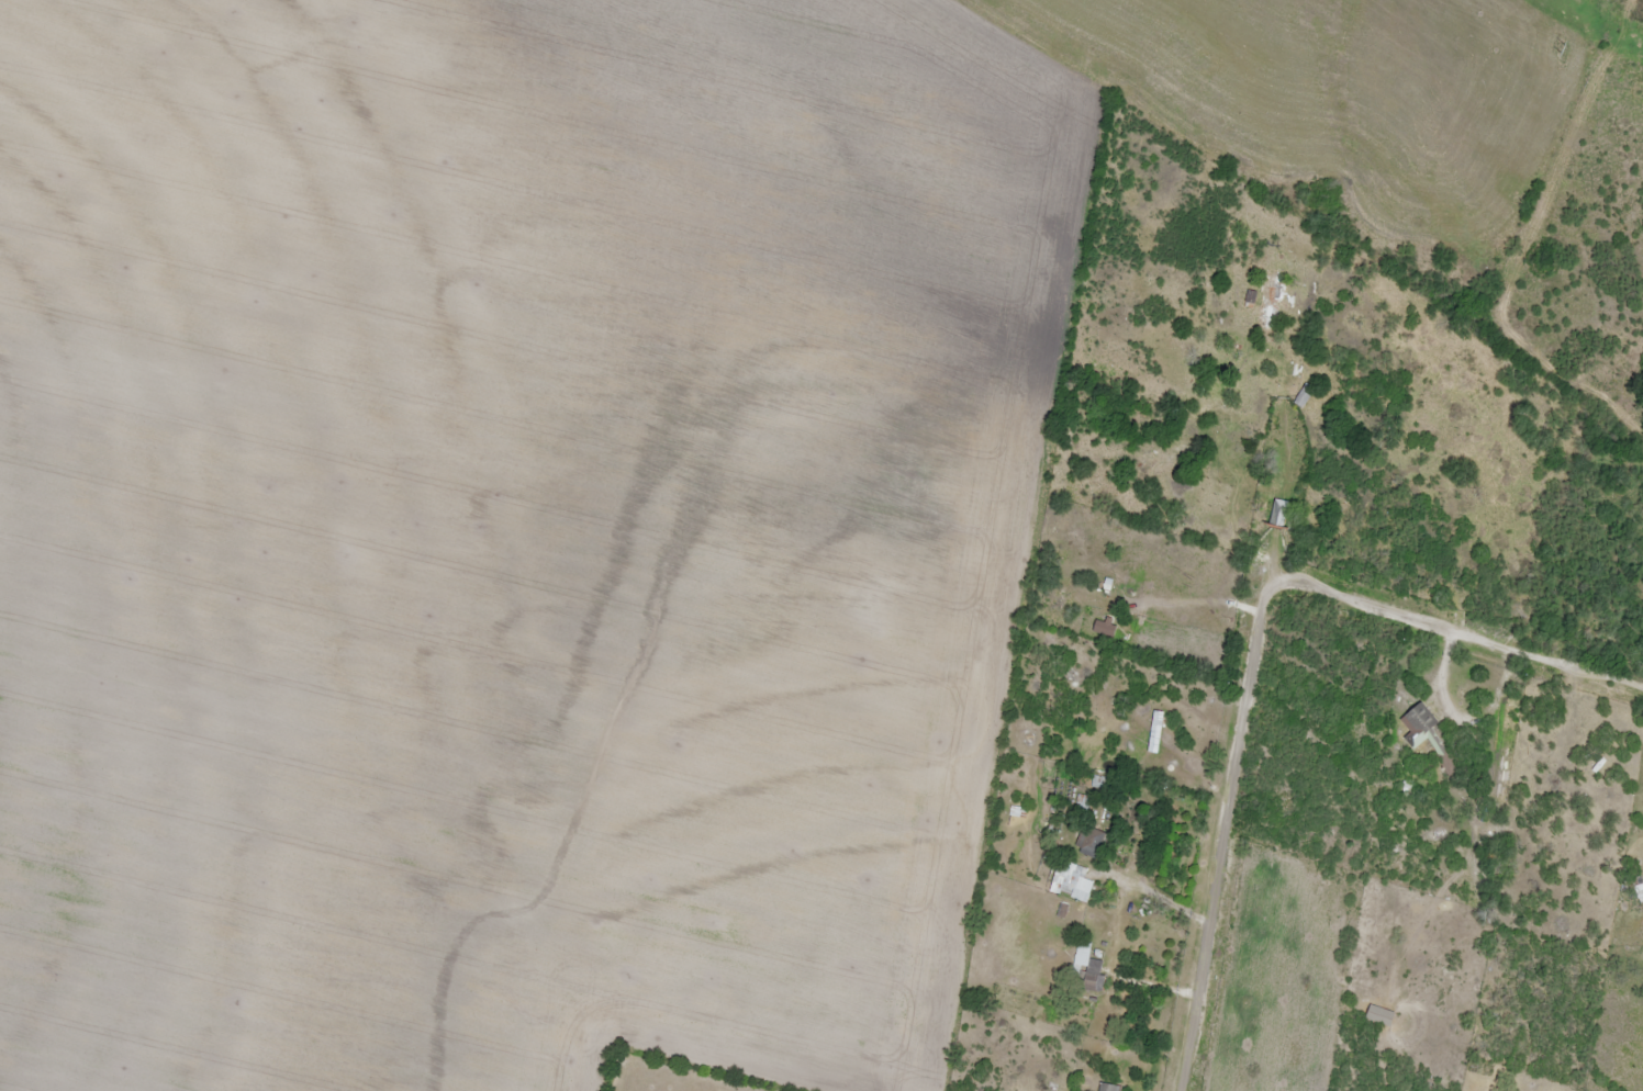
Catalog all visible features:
power tower: (1563, 50)
building: (1268, 310)
road: (1455, 633)
building: (1419, 720)
road: (1229, 799)
building: (1070, 887)
road: (1152, 895)
building: (1091, 974)
building: (1106, 1088)

